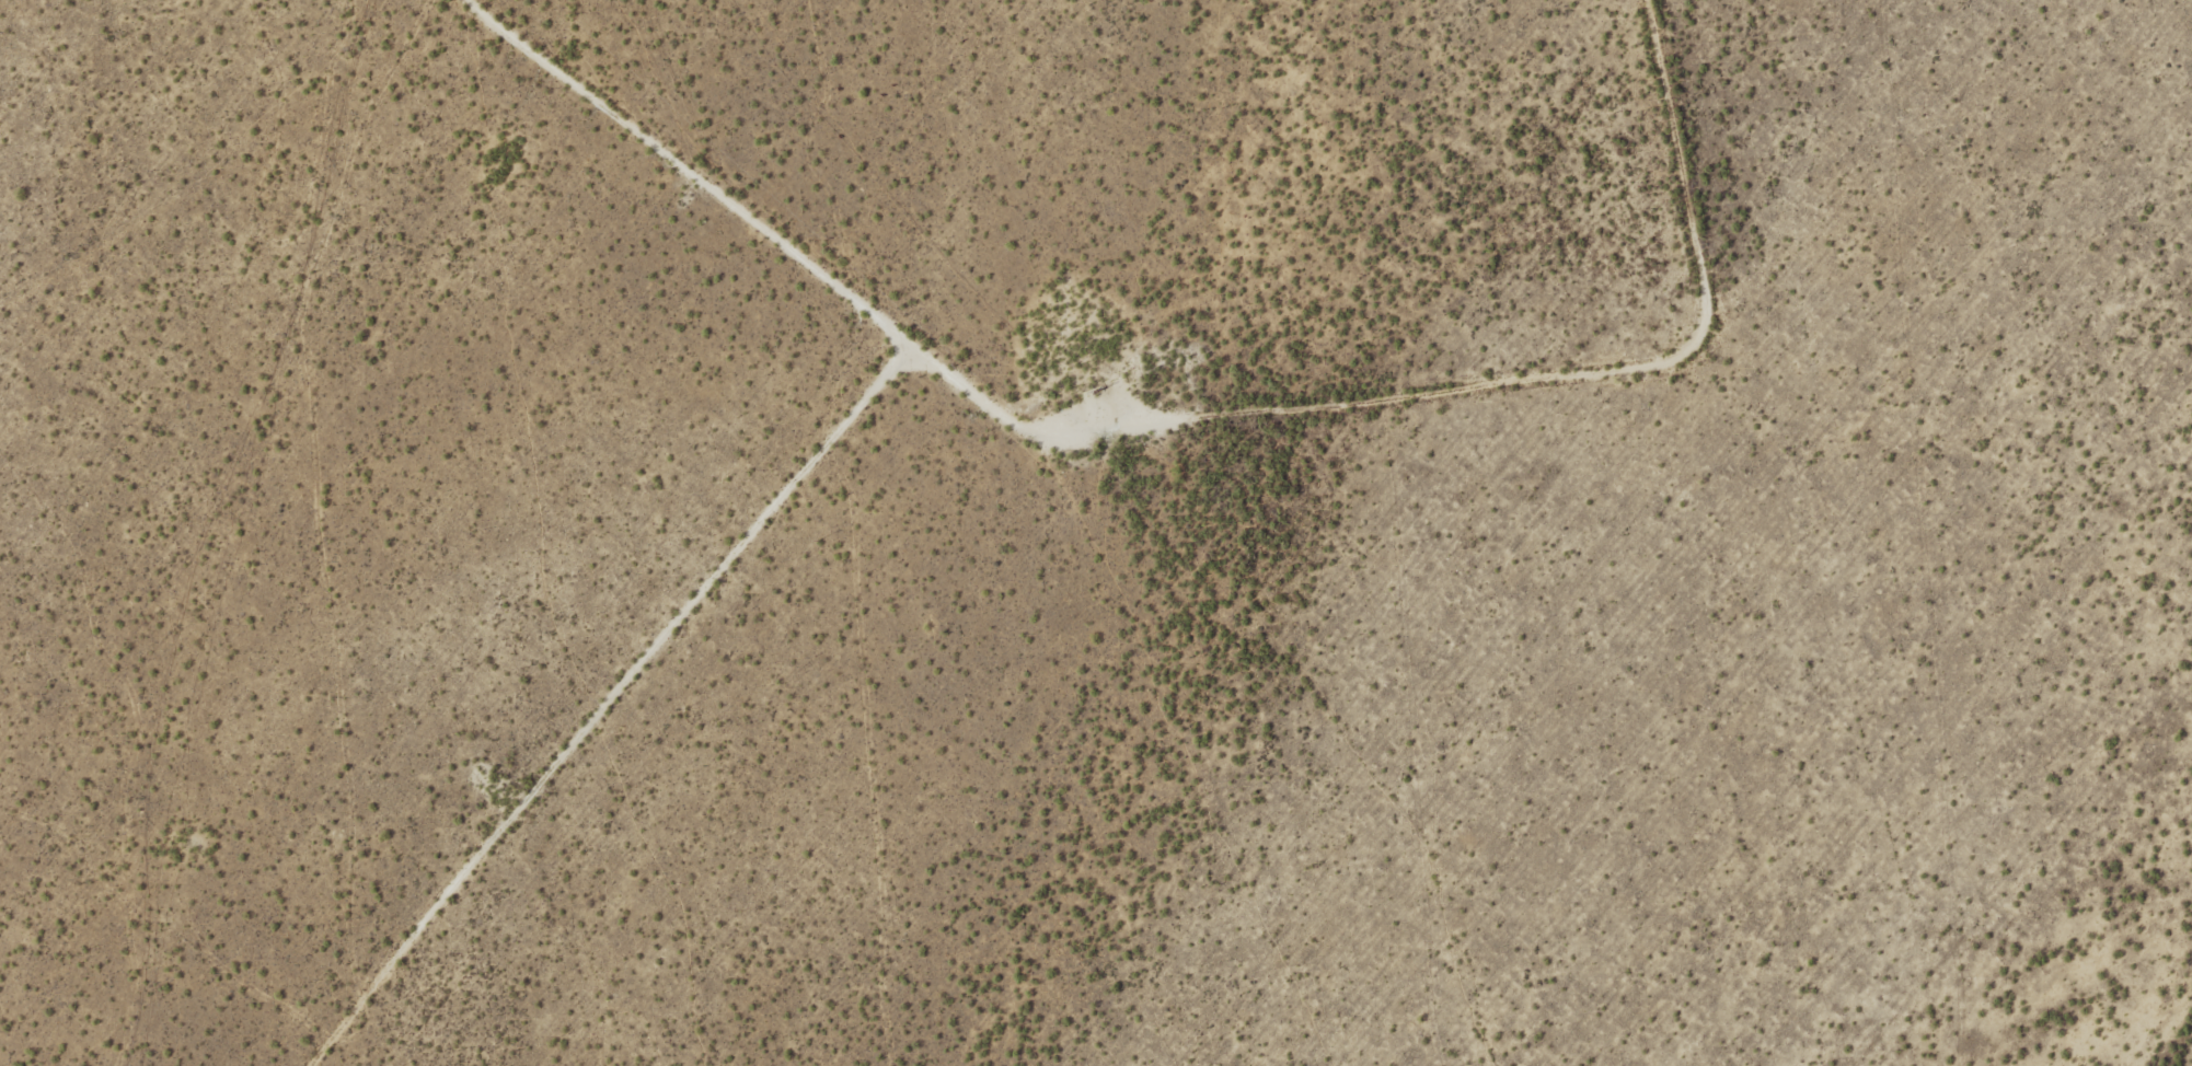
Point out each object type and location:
road: (593, 85)

